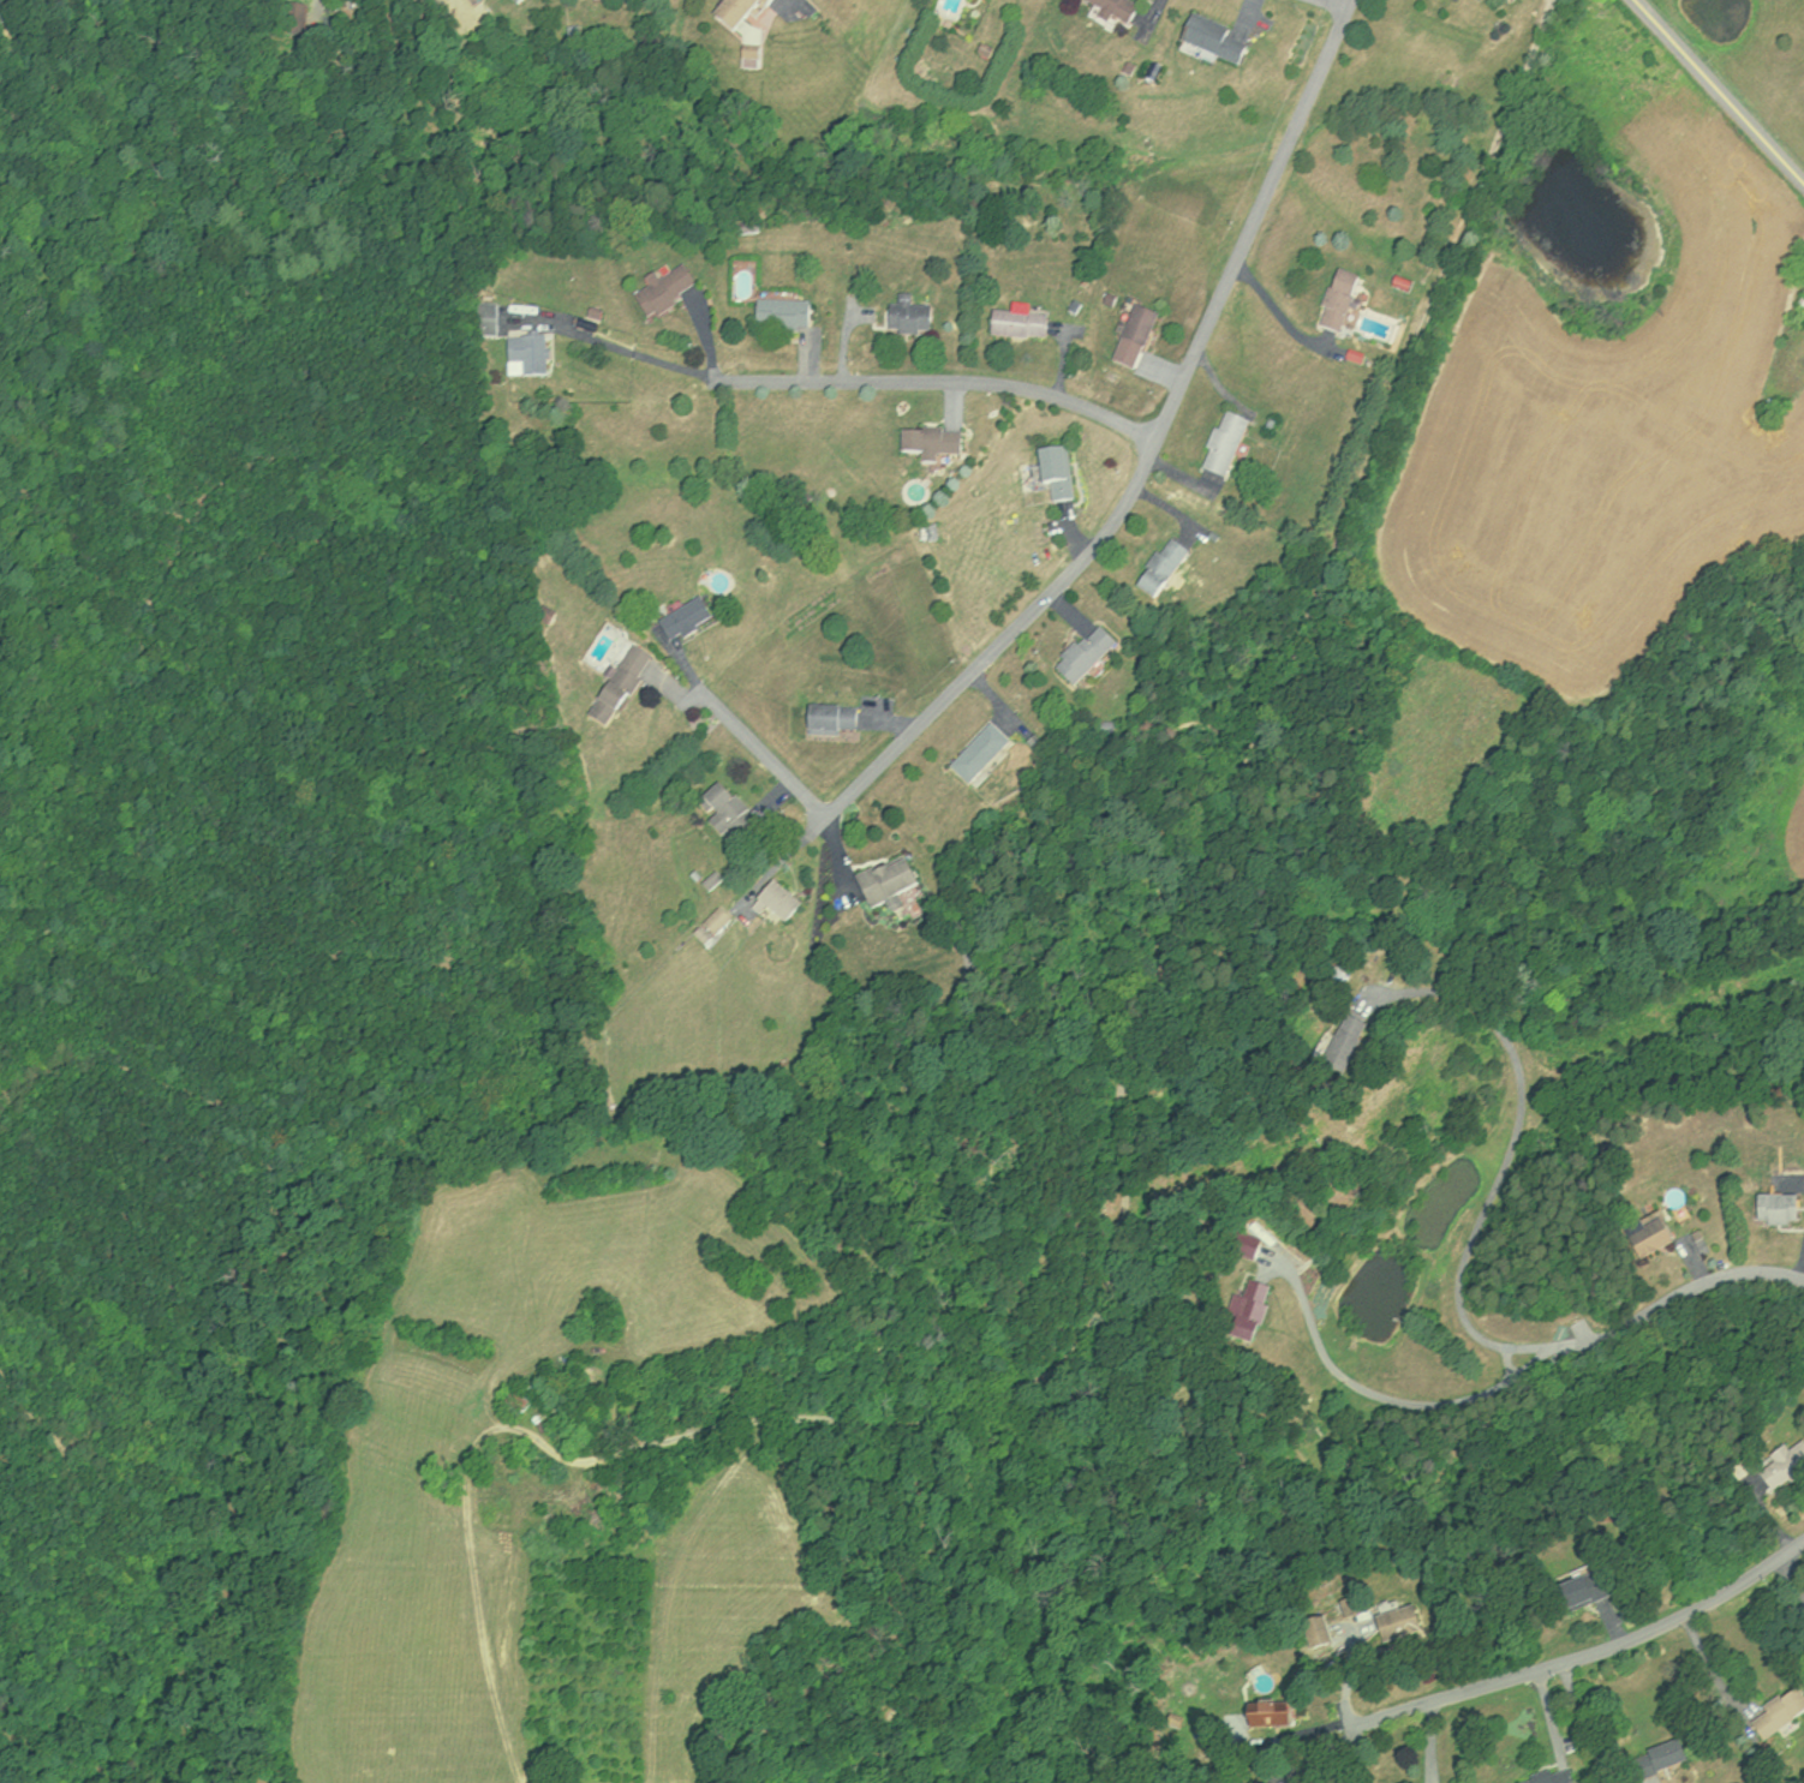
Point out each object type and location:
road: (1332, 2)
road: (10, 16)
road: (1720, 90)
road: (1276, 306)
road: (632, 349)
road: (945, 378)
road: (1131, 496)
road: (766, 752)
road: (1507, 1147)
road: (1672, 1298)
road: (1379, 1392)
road: (1788, 1582)
road: (1584, 1656)
road: (1582, 1723)
road: (1307, 1761)

